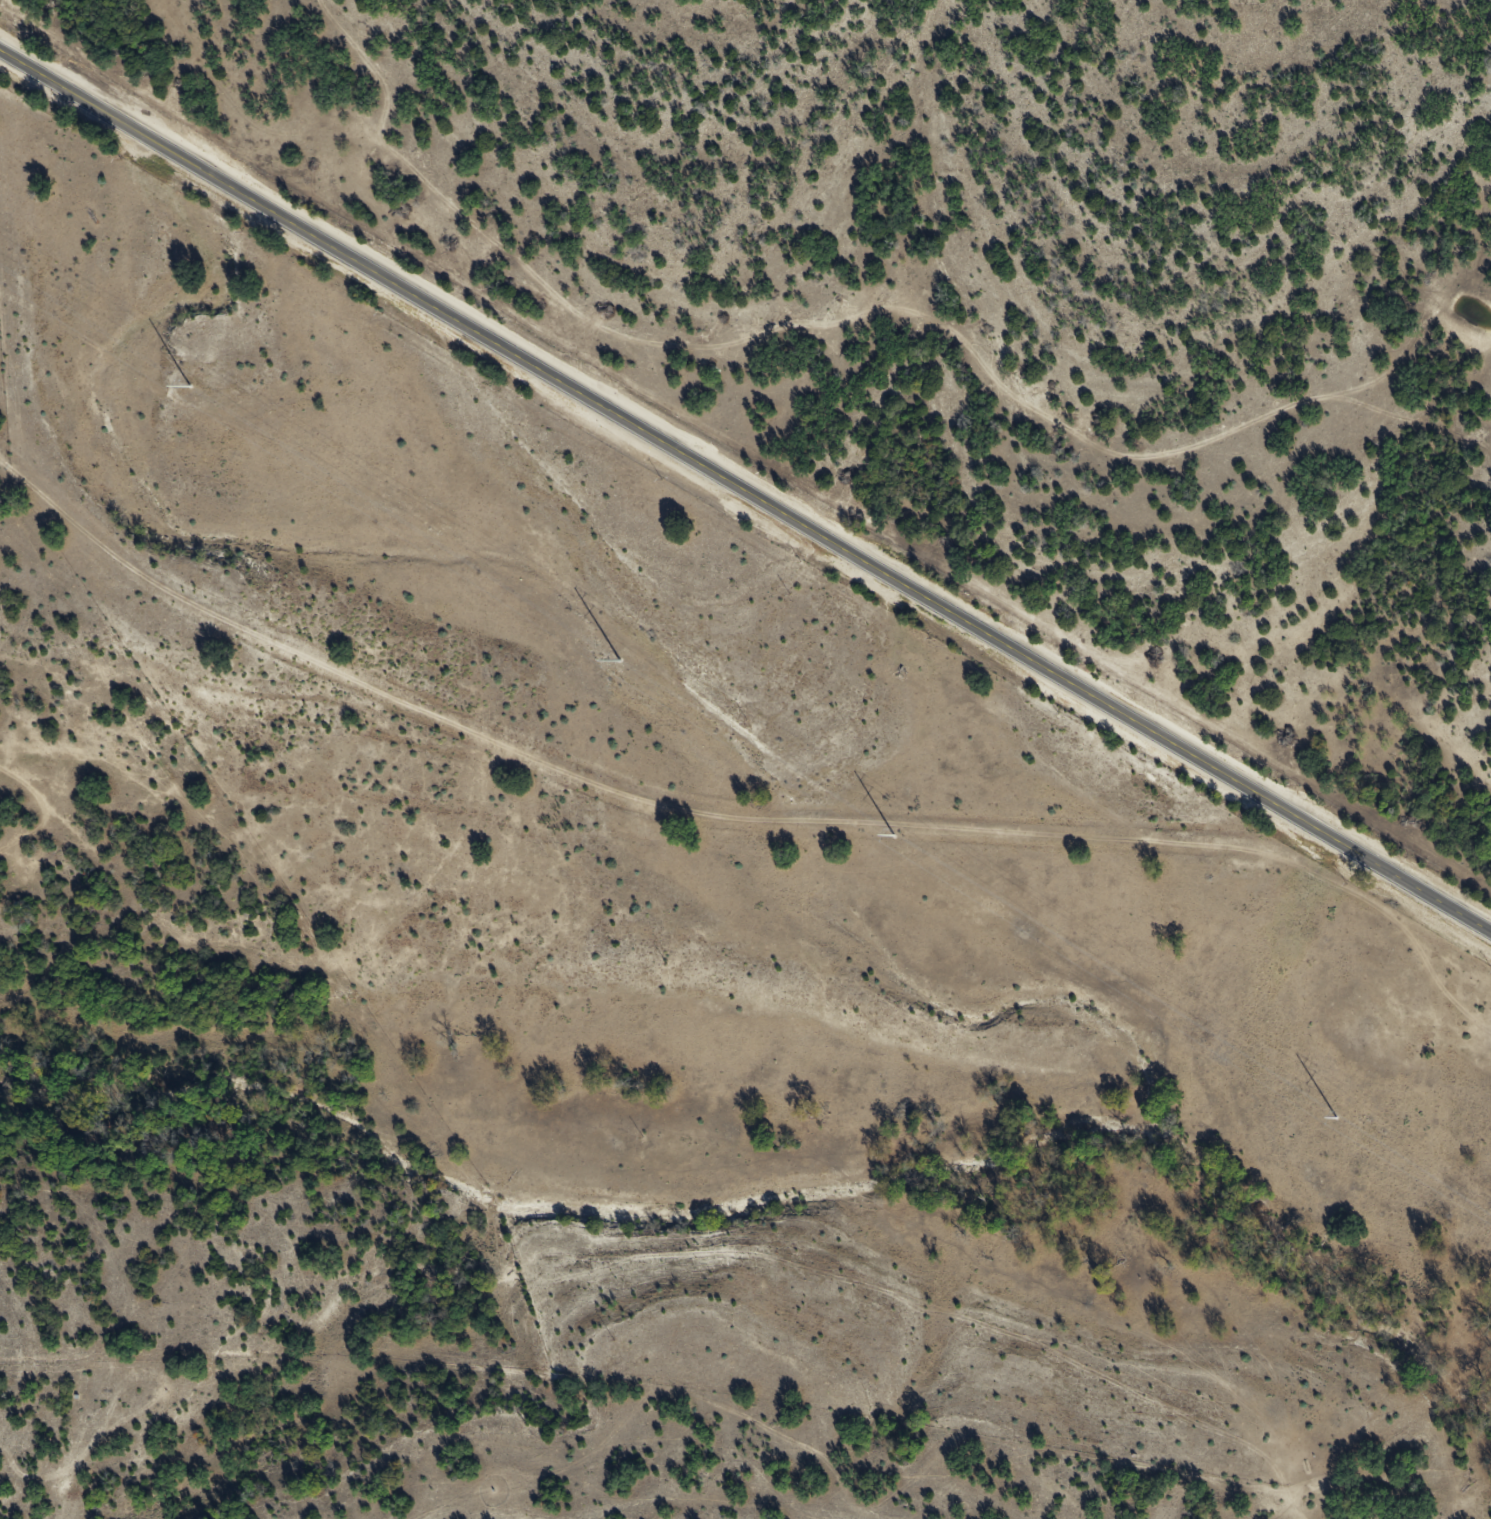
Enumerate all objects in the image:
power tower: (190, 388)
road: (745, 490)
power tower: (618, 660)
power tower: (892, 834)
power tower: (1335, 1117)

